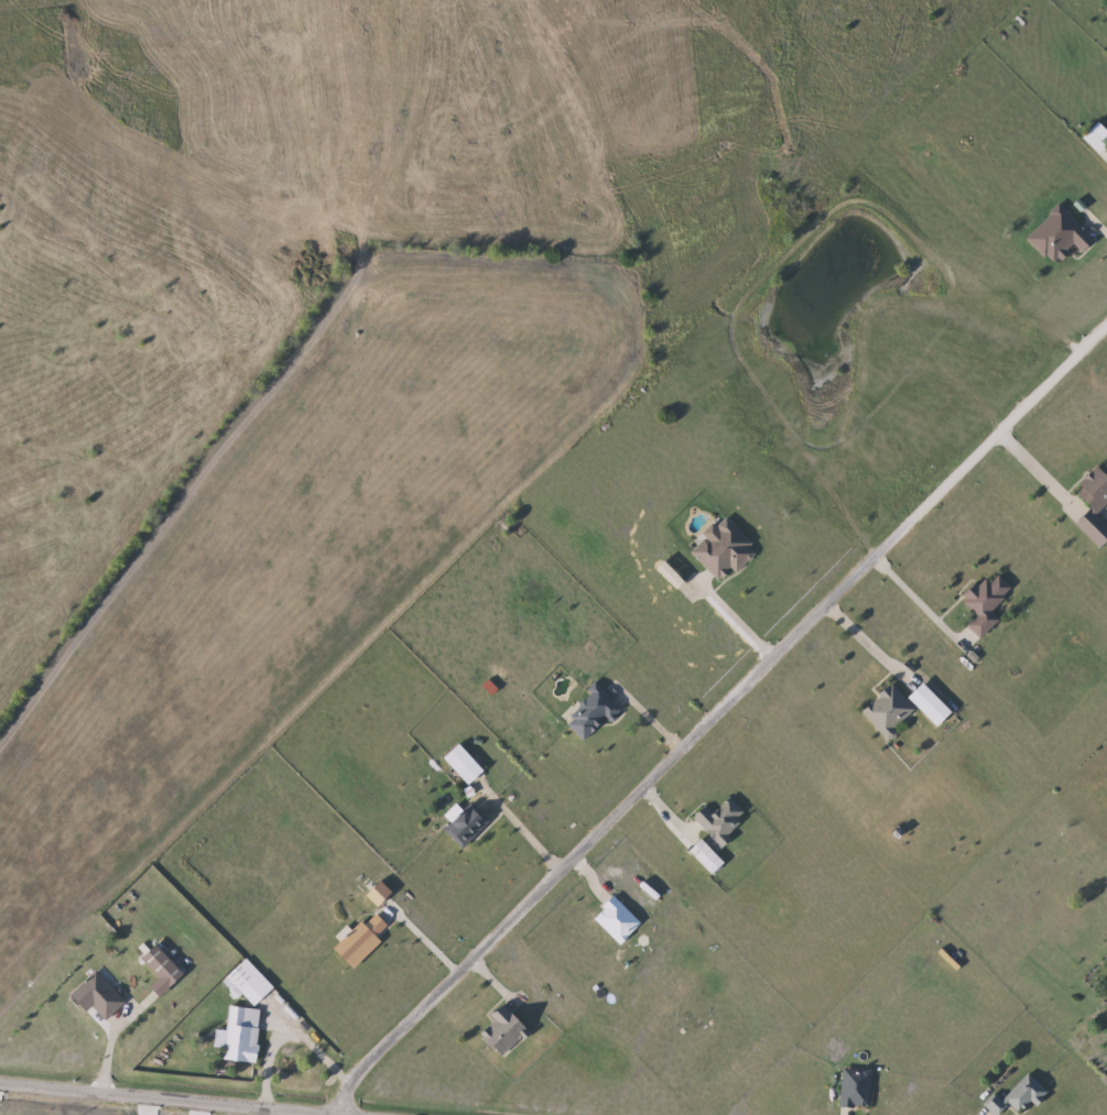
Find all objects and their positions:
building: (1096, 140)
building: (1062, 234)
road: (1037, 470)
building: (1095, 504)
building: (725, 549)
road: (916, 600)
building: (986, 603)
road: (730, 622)
road: (867, 644)
building: (931, 704)
building: (889, 710)
building: (594, 712)
road: (714, 718)
building: (465, 763)
building: (721, 820)
building: (466, 827)
road: (519, 833)
building: (706, 856)
building: (617, 919)
road: (422, 943)
building: (241, 977)
building: (100, 996)
building: (506, 1029)
road: (117, 1037)
building: (241, 1038)
road: (322, 1047)
building: (856, 1087)
building: (1016, 1096)
road: (146, 1098)

